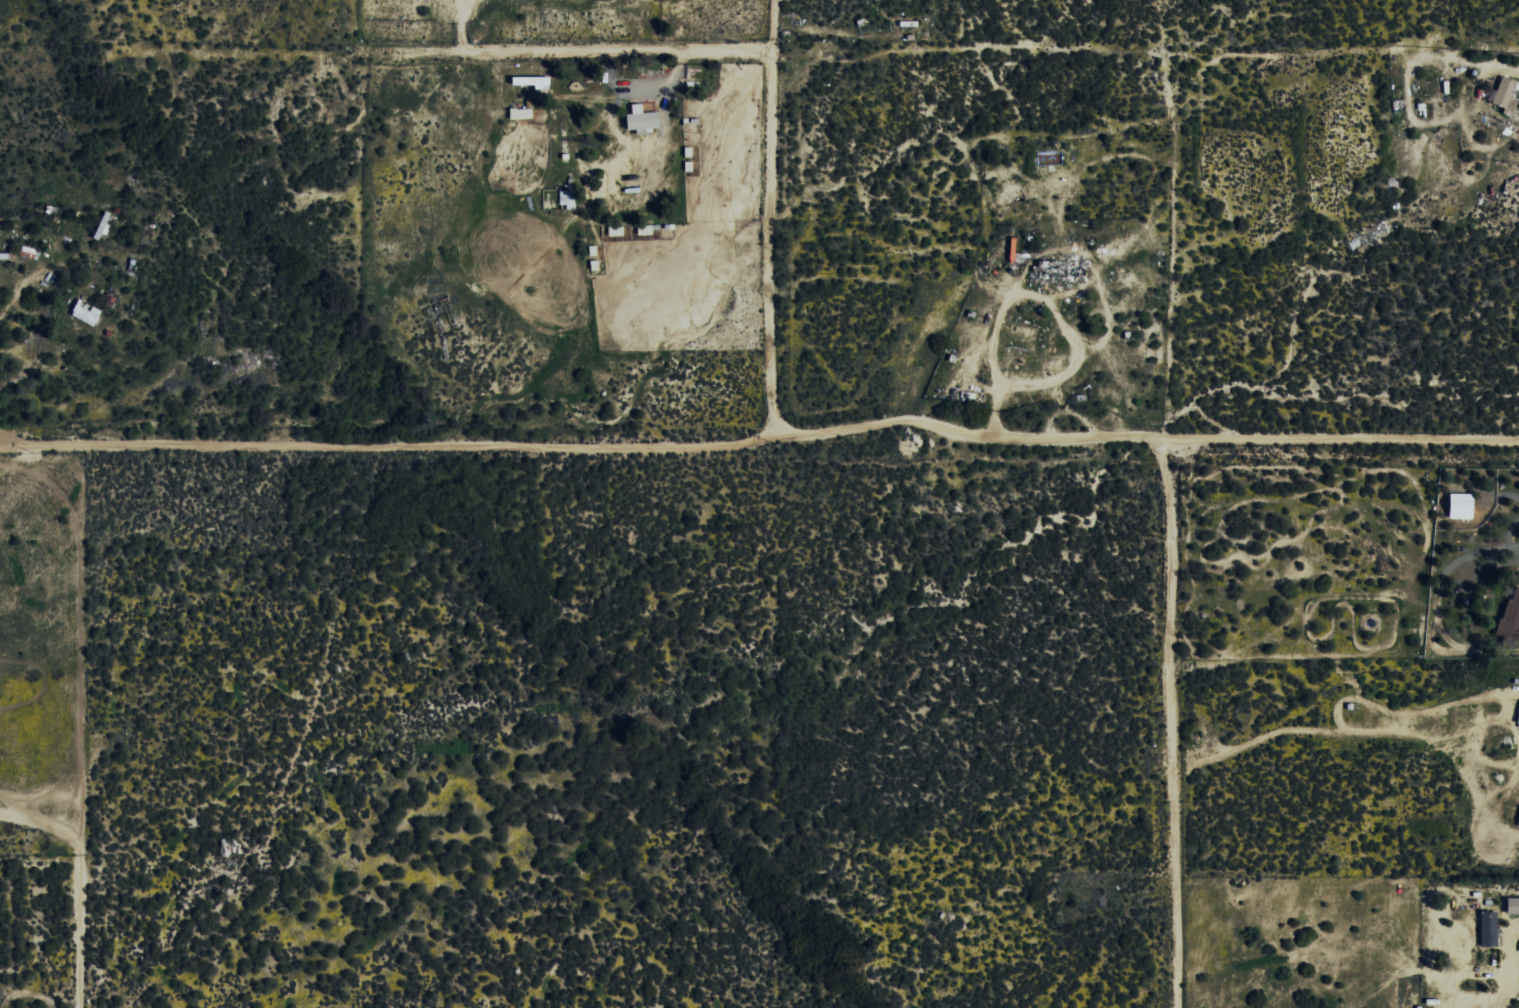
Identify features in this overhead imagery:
road: (565, 54)
building: (533, 81)
building: (1504, 93)
building: (522, 113)
building: (643, 118)
building: (569, 195)
road: (774, 223)
building: (617, 231)
building: (1064, 268)
building: (87, 312)
road: (761, 441)
building: (1463, 506)
building: (1512, 615)
building: (1518, 825)
building: (1514, 905)
building: (1490, 929)

